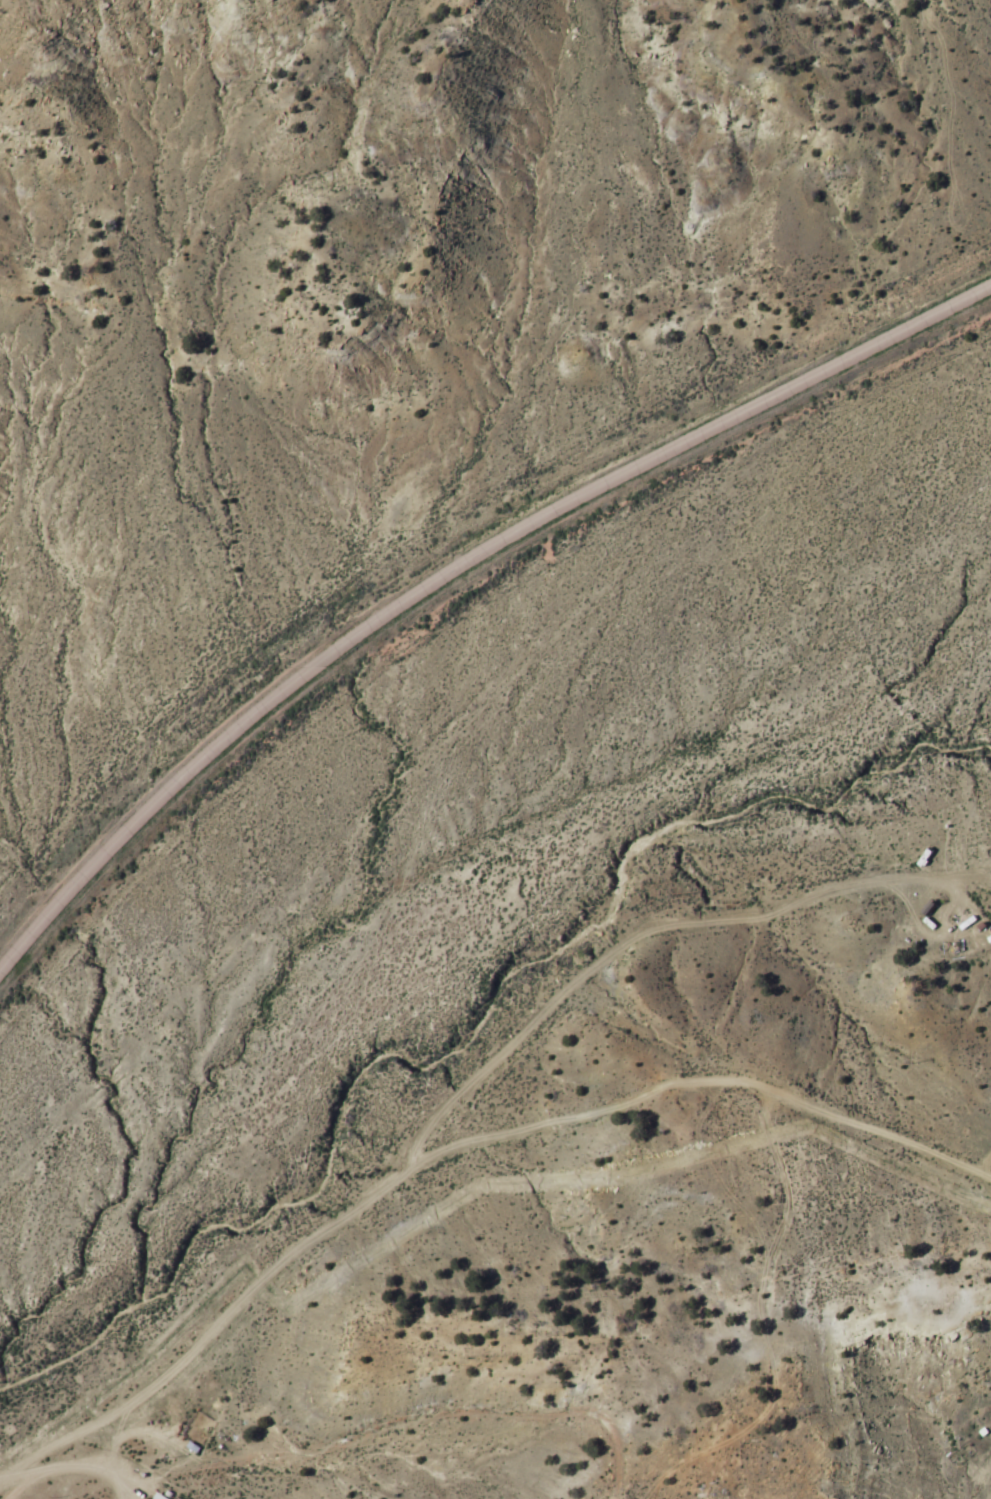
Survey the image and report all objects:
road: (451, 574)
road: (456, 1139)
road: (948, 1455)

